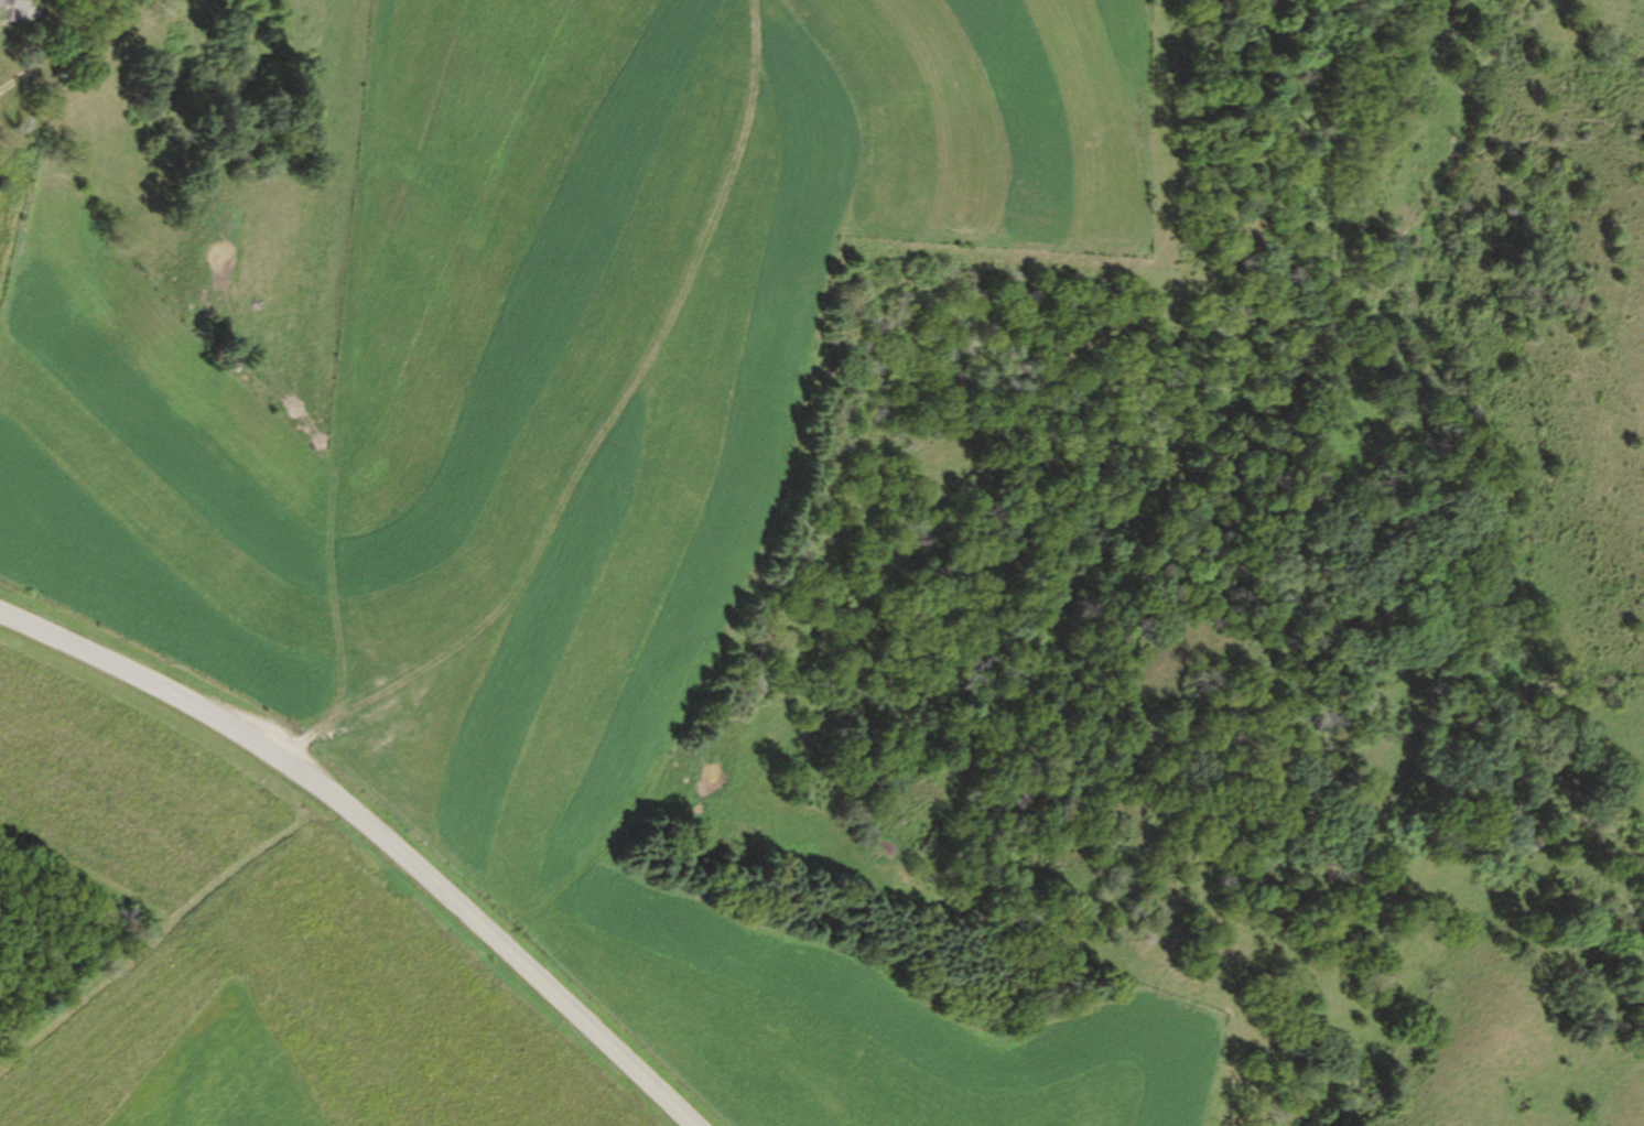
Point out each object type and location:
building: (12, 11)
road: (372, 834)

